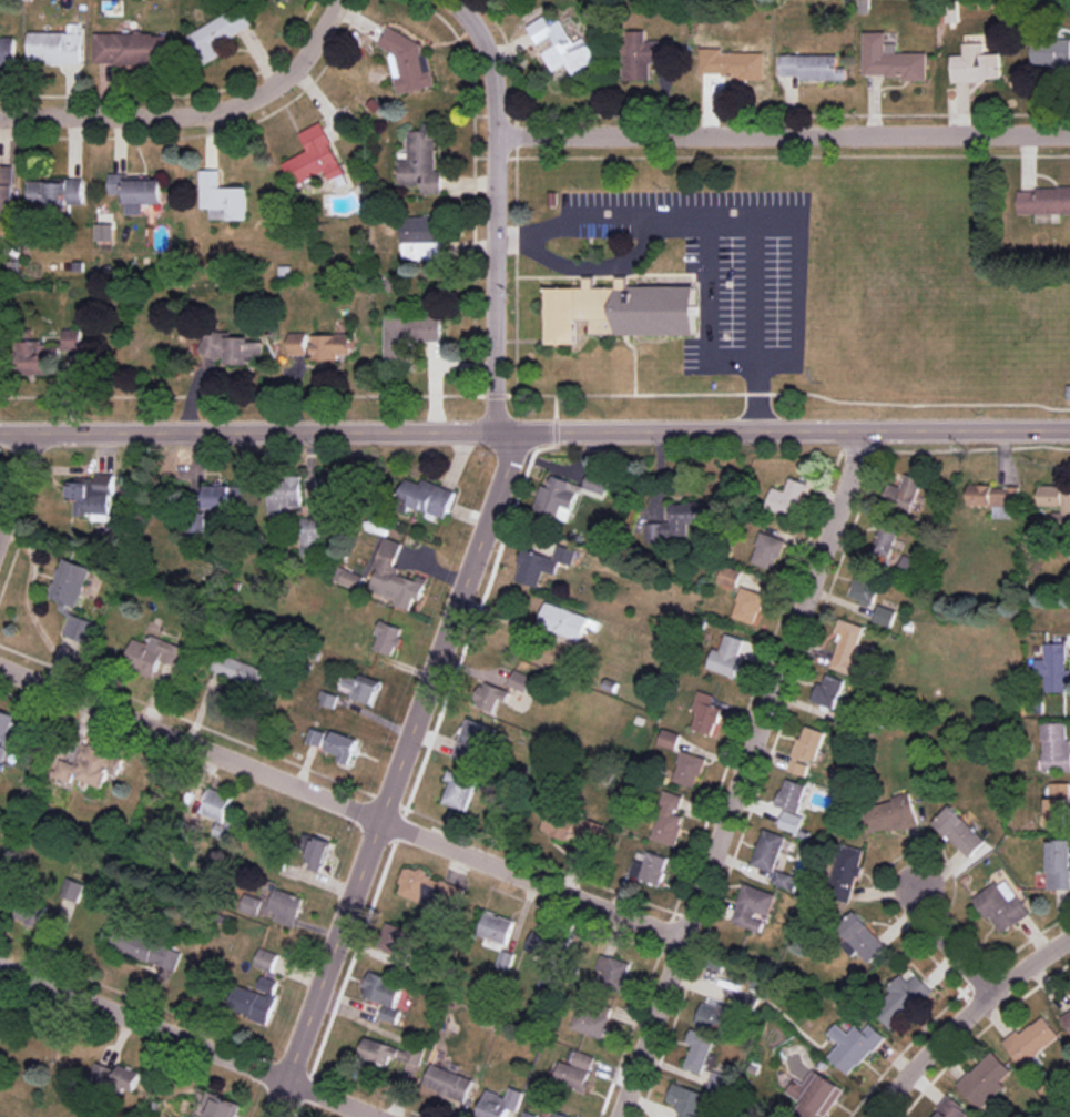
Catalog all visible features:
building: (235, 22)
building: (562, 45)
building: (55, 47)
building: (126, 48)
building: (8, 51)
building: (1052, 53)
building: (644, 54)
building: (890, 59)
building: (409, 63)
building: (731, 63)
building: (976, 64)
building: (813, 67)
road: (192, 112)
road: (783, 135)
building: (315, 156)
building: (422, 161)
building: (7, 187)
building: (57, 191)
building: (137, 191)
building: (222, 197)
building: (1043, 201)
road: (656, 217)
building: (104, 232)
building: (422, 237)
road: (508, 237)
building: (622, 309)
building: (409, 335)
building: (72, 338)
building: (320, 345)
building: (233, 347)
building: (37, 357)
road: (534, 430)
road: (19, 488)
building: (569, 494)
building: (904, 494)
building: (992, 495)
building: (93, 496)
building: (226, 496)
building: (1054, 496)
building: (285, 497)
building: (426, 497)
building: (787, 498)
building: (676, 521)
building: (312, 535)
building: (885, 538)
building: (768, 550)
road: (472, 562)
building: (542, 563)
building: (396, 576)
building: (730, 577)
building: (348, 578)
building: (866, 587)
building: (72, 599)
building: (748, 605)
building: (885, 616)
building: (563, 620)
building: (388, 637)
building: (847, 648)
building: (153, 654)
building: (733, 656)
building: (1053, 667)
building: (241, 670)
building: (521, 680)
building: (364, 687)
building: (829, 691)
building: (491, 698)
building: (329, 699)
building: (705, 712)
building: (8, 729)
building: (315, 737)
building: (669, 739)
building: (473, 742)
building: (343, 745)
building: (1056, 747)
building: (807, 749)
building: (2, 752)
building: (90, 765)
building: (689, 769)
road: (744, 774)
building: (458, 789)
building: (792, 795)
road: (339, 802)
building: (1058, 804)
building: (221, 813)
building: (891, 814)
building: (669, 820)
building: (792, 821)
building: (571, 825)
building: (960, 831)
building: (768, 850)
building: (318, 853)
building: (1059, 864)
building: (650, 867)
building: (846, 873)
building: (785, 880)
building: (72, 888)
building: (430, 890)
building: (1002, 905)
building: (276, 906)
building: (753, 906)
building: (33, 915)
building: (496, 926)
building: (399, 937)
building: (860, 938)
road: (946, 942)
building: (543, 945)
building: (143, 946)
building: (266, 959)
building: (612, 972)
building: (549, 981)
building: (267, 984)
building: (383, 989)
building: (900, 999)
building: (253, 1003)
building: (389, 1014)
road: (962, 1014)
building: (719, 1018)
building: (1067, 1018)
building: (2, 1019)
building: (591, 1020)
building: (1031, 1039)
road: (194, 1040)
building: (854, 1045)
building: (699, 1050)
building: (391, 1053)
building: (575, 1069)
building: (120, 1076)
building: (986, 1079)
building: (448, 1082)
building: (720, 1083)
building: (816, 1095)
building: (685, 1099)
building: (500, 1103)
building: (220, 1106)
building: (951, 1109)
building: (546, 1114)

